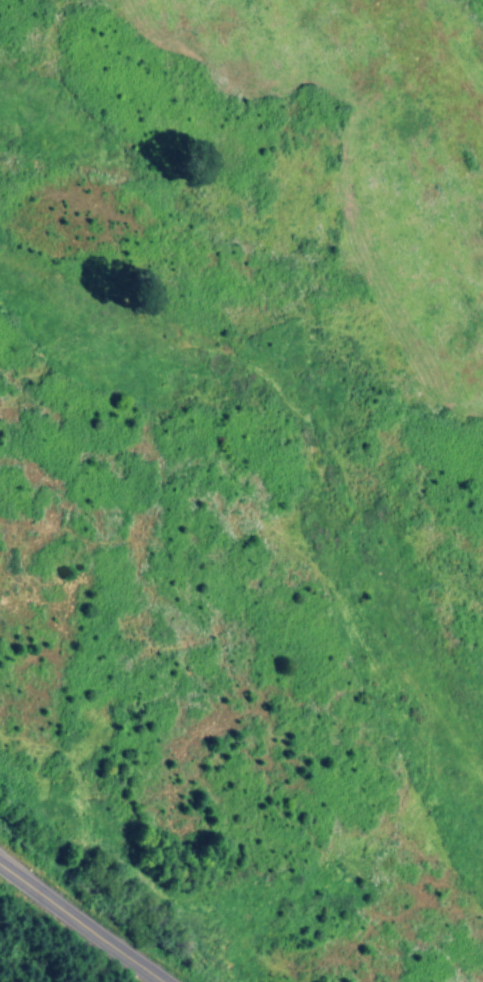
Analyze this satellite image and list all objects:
road: (81, 925)

